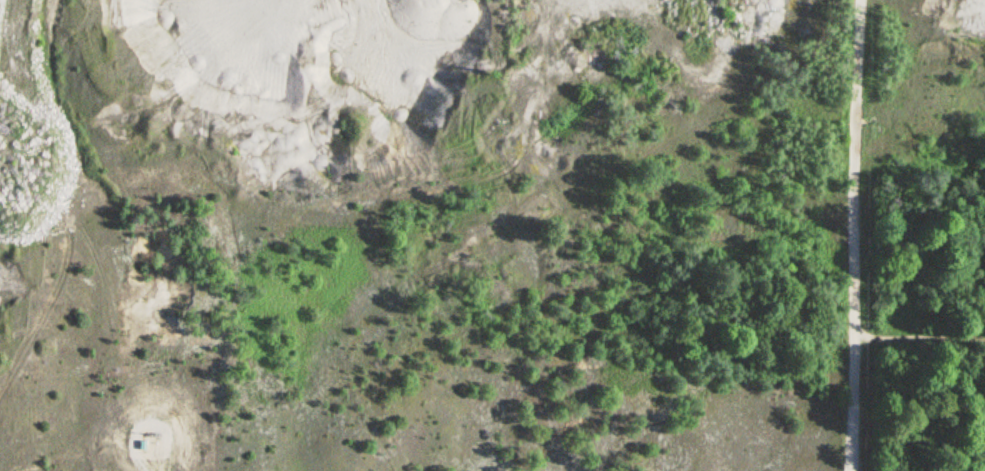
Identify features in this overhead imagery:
quarry: (407, 234)
road: (854, 235)
road: (919, 335)
road: (153, 392)
petroleum well: (152, 439)

